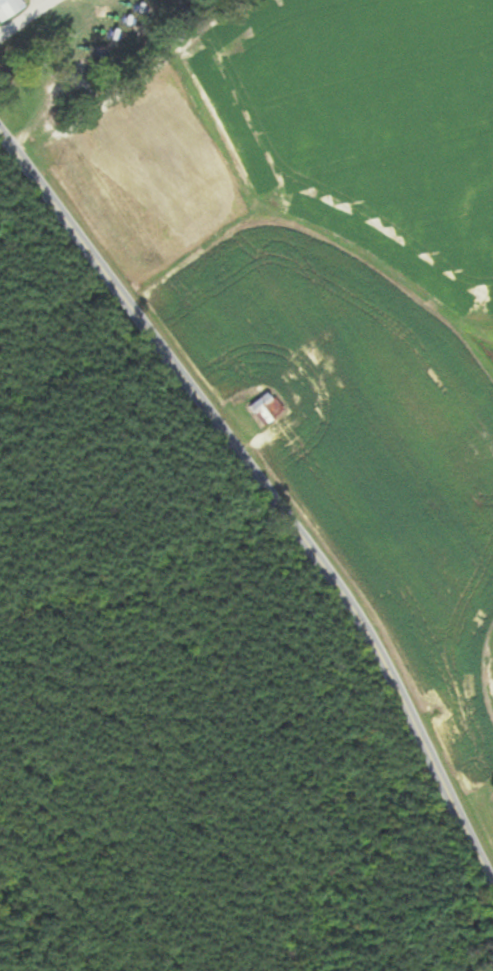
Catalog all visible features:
building: (6, 7)
road: (22, 15)
road: (267, 492)

